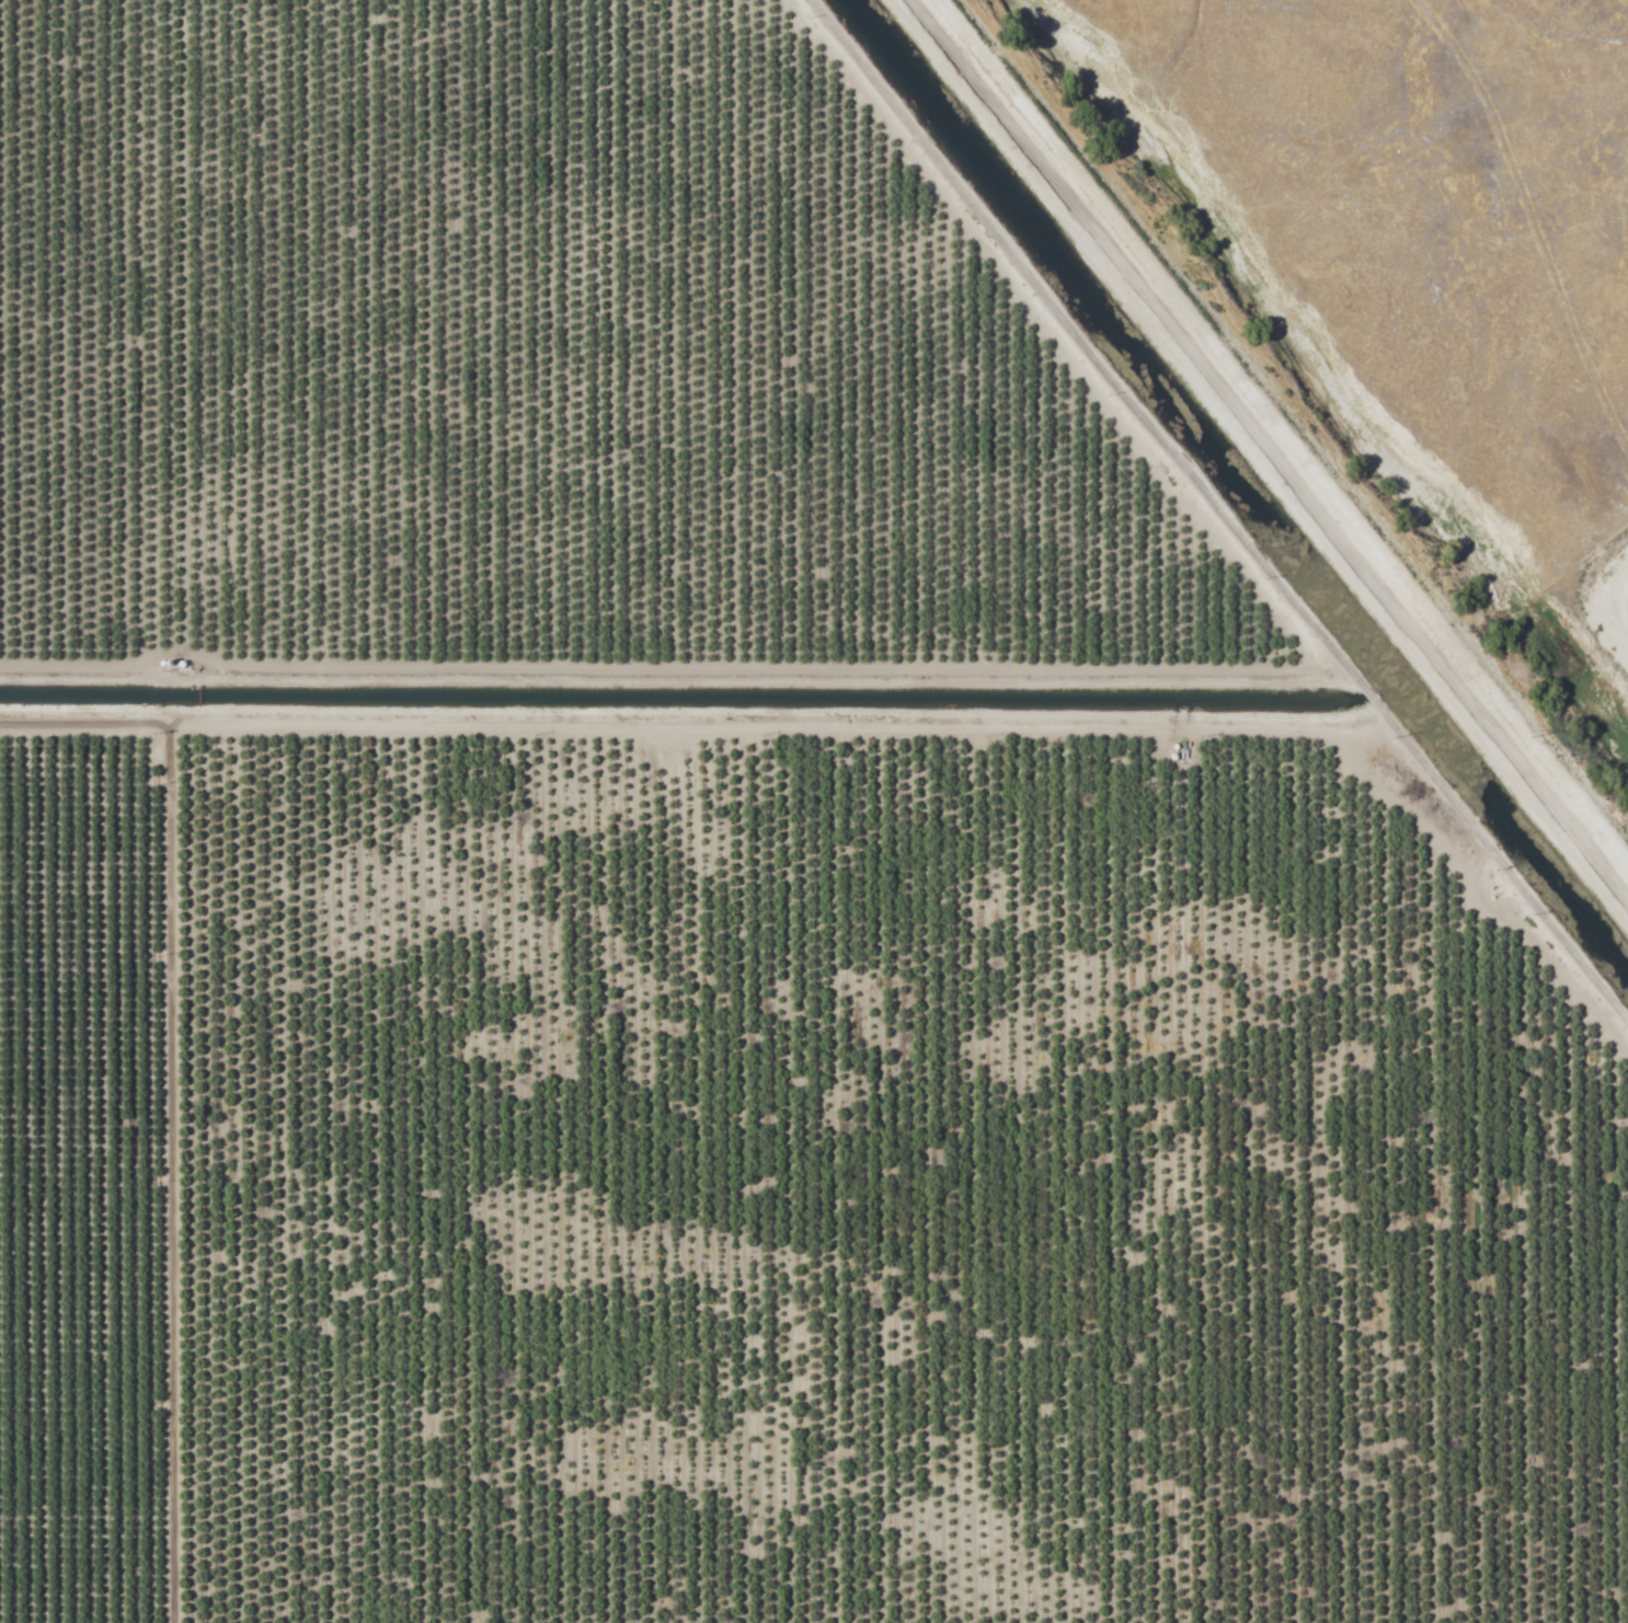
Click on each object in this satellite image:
road: (1269, 446)
road: (1197, 526)
road: (696, 739)
road: (187, 1188)

